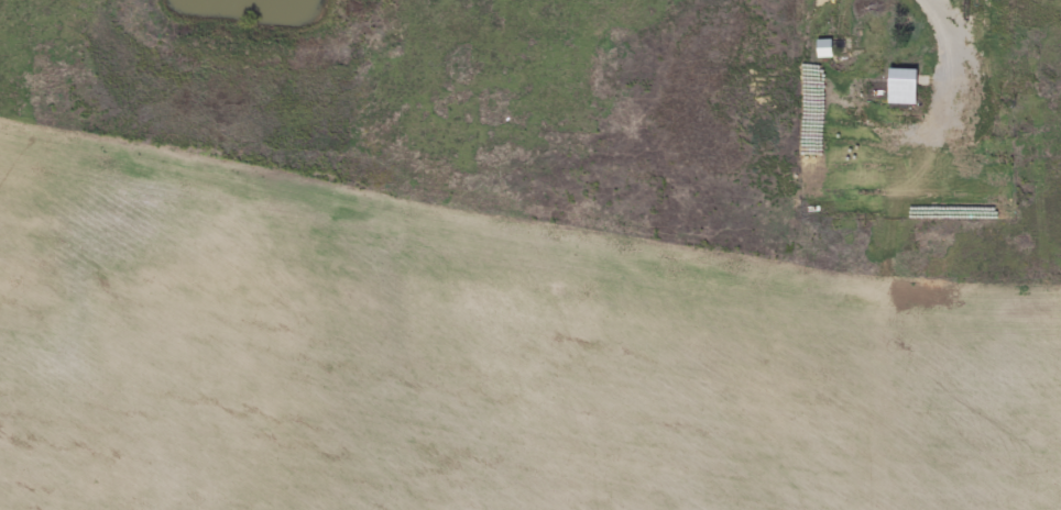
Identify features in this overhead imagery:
building: (823, 51)
building: (901, 89)

